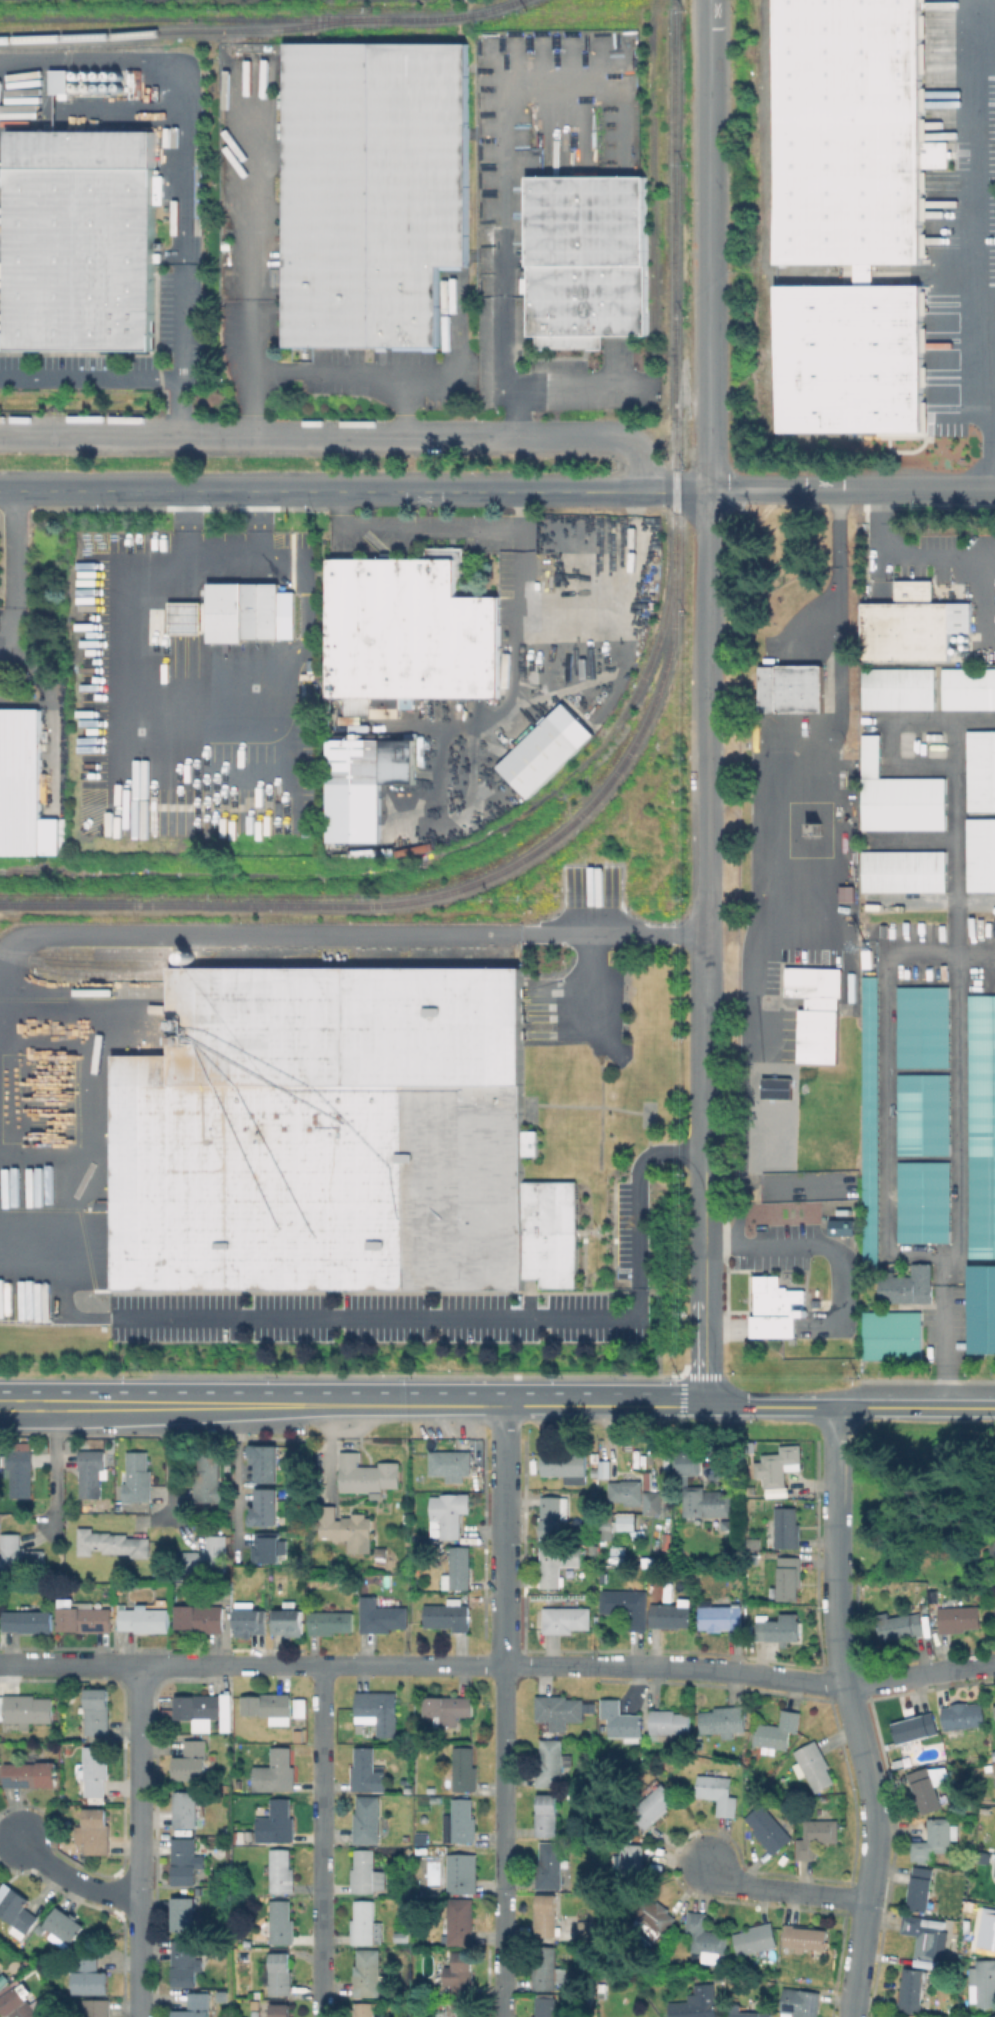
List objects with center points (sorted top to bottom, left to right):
railway: (263, 19)
railway: (188, 30)
road: (132, 57)
road: (20, 58)
building: (60, 82)
building: (136, 82)
road: (90, 106)
building: (848, 132)
building: (933, 154)
building: (374, 189)
road: (183, 191)
railway: (769, 213)
road: (504, 218)
building: (588, 220)
building: (84, 240)
road: (710, 246)
road: (978, 251)
building: (2, 270)
railway: (674, 278)
building: (588, 300)
building: (570, 342)
road: (179, 355)
building: (848, 358)
road: (320, 370)
road: (89, 378)
road: (557, 390)
road: (344, 435)
road: (785, 489)
road: (928, 489)
road: (7, 490)
road: (177, 491)
road: (524, 492)
road: (434, 527)
road: (187, 530)
building: (451, 556)
road: (900, 561)
road: (14, 566)
road: (282, 572)
building: (241, 610)
building: (183, 618)
building: (914, 625)
building: (410, 630)
road: (117, 646)
road: (516, 687)
building: (791, 687)
building: (896, 688)
building: (967, 688)
building: (387, 702)
building: (349, 719)
building: (540, 756)
road: (811, 769)
building: (980, 770)
railway: (567, 778)
building: (365, 784)
building: (24, 788)
building: (896, 795)
building: (769, 819)
building: (980, 854)
building: (902, 871)
railway: (23, 872)
railway: (159, 874)
building: (844, 893)
railway: (443, 894)
road: (348, 931)
road: (707, 949)
railway: (77, 952)
railway: (85, 975)
road: (590, 982)
building: (817, 1011)
building: (924, 1028)
building: (924, 1115)
building: (871, 1123)
road: (956, 1124)
building: (982, 1128)
building: (326, 1132)
building: (924, 1203)
building: (840, 1226)
building: (550, 1232)
road: (822, 1247)
building: (909, 1286)
building: (777, 1308)
building: (982, 1310)
road: (410, 1319)
building: (893, 1336)
road: (941, 1345)
road: (76, 1406)
road: (160, 1406)
road: (237, 1406)
road: (506, 1406)
road: (770, 1406)
road: (914, 1407)
road: (168, 1460)
building: (594, 1461)
building: (266, 1462)
building: (688, 1462)
road: (53, 1463)
building: (451, 1464)
building: (566, 1465)
building: (779, 1465)
building: (89, 1474)
building: (365, 1475)
building: (18, 1478)
building: (139, 1478)
building: (209, 1478)
road: (236, 1479)
road: (834, 1491)
building: (636, 1494)
building: (708, 1502)
building: (264, 1509)
building: (449, 1513)
building: (553, 1515)
building: (624, 1522)
building: (787, 1528)
building: (347, 1529)
road: (503, 1535)
building: (113, 1543)
building: (752, 1545)
building: (266, 1548)
building: (208, 1555)
building: (19, 1556)
building: (558, 1563)
building: (459, 1569)
building: (788, 1577)
building: (628, 1605)
building: (382, 1615)
building: (449, 1615)
building: (672, 1615)
building: (721, 1616)
building: (85, 1617)
building: (201, 1617)
building: (566, 1618)
building: (959, 1618)
building: (145, 1619)
building: (249, 1619)
building: (287, 1620)
building: (29, 1621)
building: (331, 1621)
building: (901, 1625)
building: (779, 1630)
road: (115, 1664)
road: (413, 1664)
road: (549, 1664)
road: (277, 1665)
road: (796, 1679)
building: (268, 1704)
building: (203, 1706)
building: (28, 1709)
building: (301, 1709)
building: (449, 1709)
building: (98, 1711)
building: (379, 1711)
building: (994, 1711)
building: (558, 1713)
building: (962, 1717)
building: (723, 1719)
building: (622, 1720)
building: (669, 1724)
building: (916, 1727)
building: (698, 1728)
building: (778, 1730)
building: (993, 1757)
building: (192, 1761)
building: (550, 1763)
building: (897, 1764)
building: (814, 1765)
building: (97, 1768)
building: (464, 1770)
building: (276, 1771)
building: (367, 1771)
building: (31, 1773)
building: (994, 1776)
building: (994, 1785)
building: (925, 1790)
building: (408, 1792)
building: (422, 1793)
building: (718, 1793)
road: (870, 1794)
building: (651, 1808)
building: (187, 1809)
building: (547, 1815)
building: (368, 1820)
building: (463, 1821)
building: (277, 1822)
building: (768, 1829)
building: (95, 1831)
building: (816, 1836)
building: (244, 1839)
building: (936, 1839)
building: (423, 1840)
road: (502, 1840)
road: (141, 1841)
road: (323, 1841)
building: (424, 1854)
building: (982, 1858)
building: (185, 1860)
building: (551, 1865)
building: (631, 1865)
building: (994, 1870)
building: (282, 1871)
building: (463, 1873)
building: (365, 1876)
road: (76, 1877)
road: (782, 1887)
building: (921, 1888)
building: (18, 1911)
building: (185, 1912)
building: (548, 1916)
building: (652, 1918)
building: (283, 1922)
building: (459, 1923)
building: (366, 1924)
building: (66, 1926)
building: (588, 1932)
building: (987, 1932)
building: (923, 1936)
building: (401, 1937)
building: (806, 1937)
building: (707, 1938)
building: (756, 1939)
building: (185, 1962)
building: (546, 1969)
building: (368, 1973)
building: (461, 1973)
building: (1, 1974)
building: (280, 1974)
building: (90, 1975)
building: (2, 1980)
building: (983, 1982)
building: (910, 1989)
building: (801, 2002)
building: (697, 2003)
building: (17, 2004)
building: (197, 2005)
building: (94, 2007)
building: (546, 2007)
building: (366, 2009)
building: (457, 2009)
building: (281, 2010)
building: (745, 2012)
building: (257, 2014)
building: (917, 2016)
building: (993, 2016)

